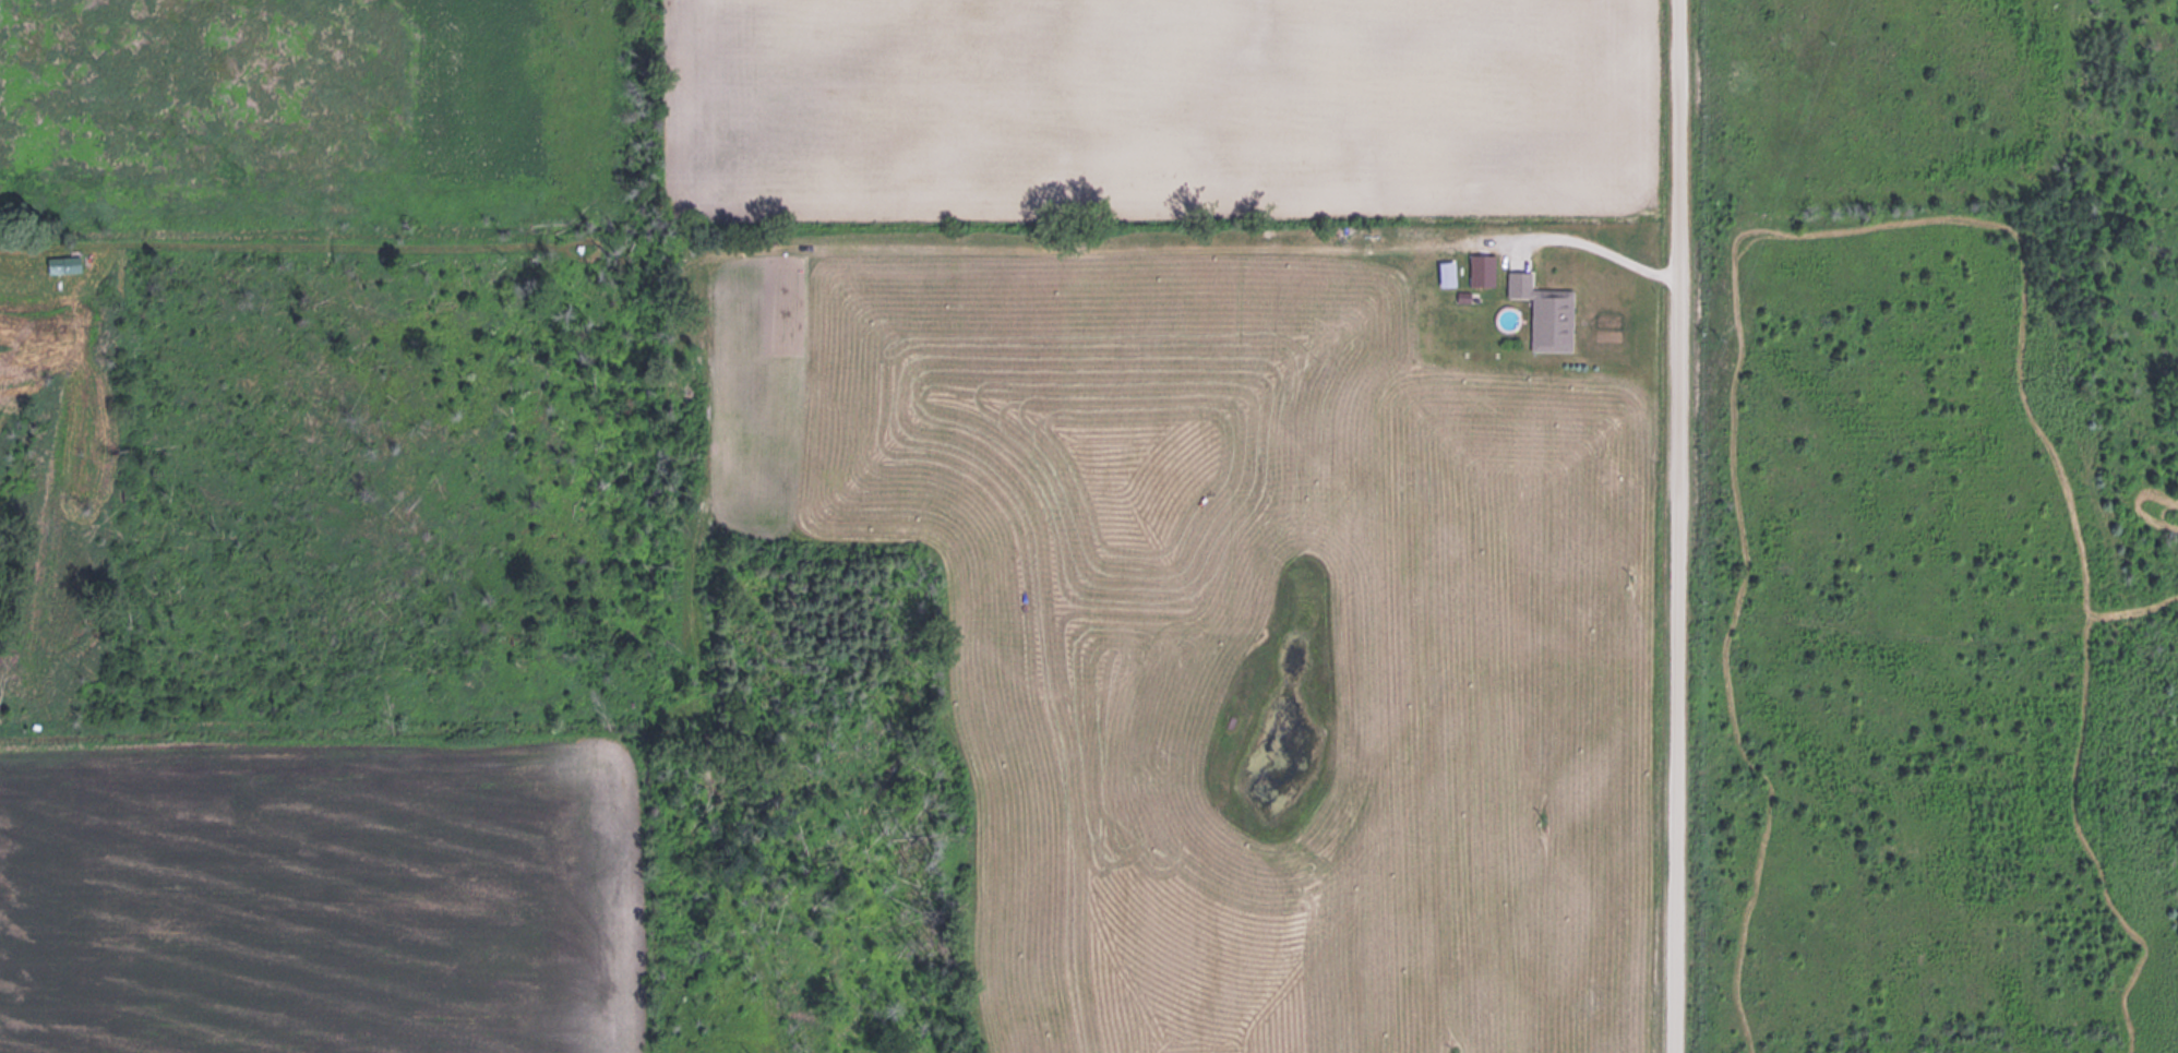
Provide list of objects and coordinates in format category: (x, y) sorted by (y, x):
road: (1592, 248)
building: (63, 262)
building: (1482, 267)
building: (1545, 311)
road: (1677, 526)

